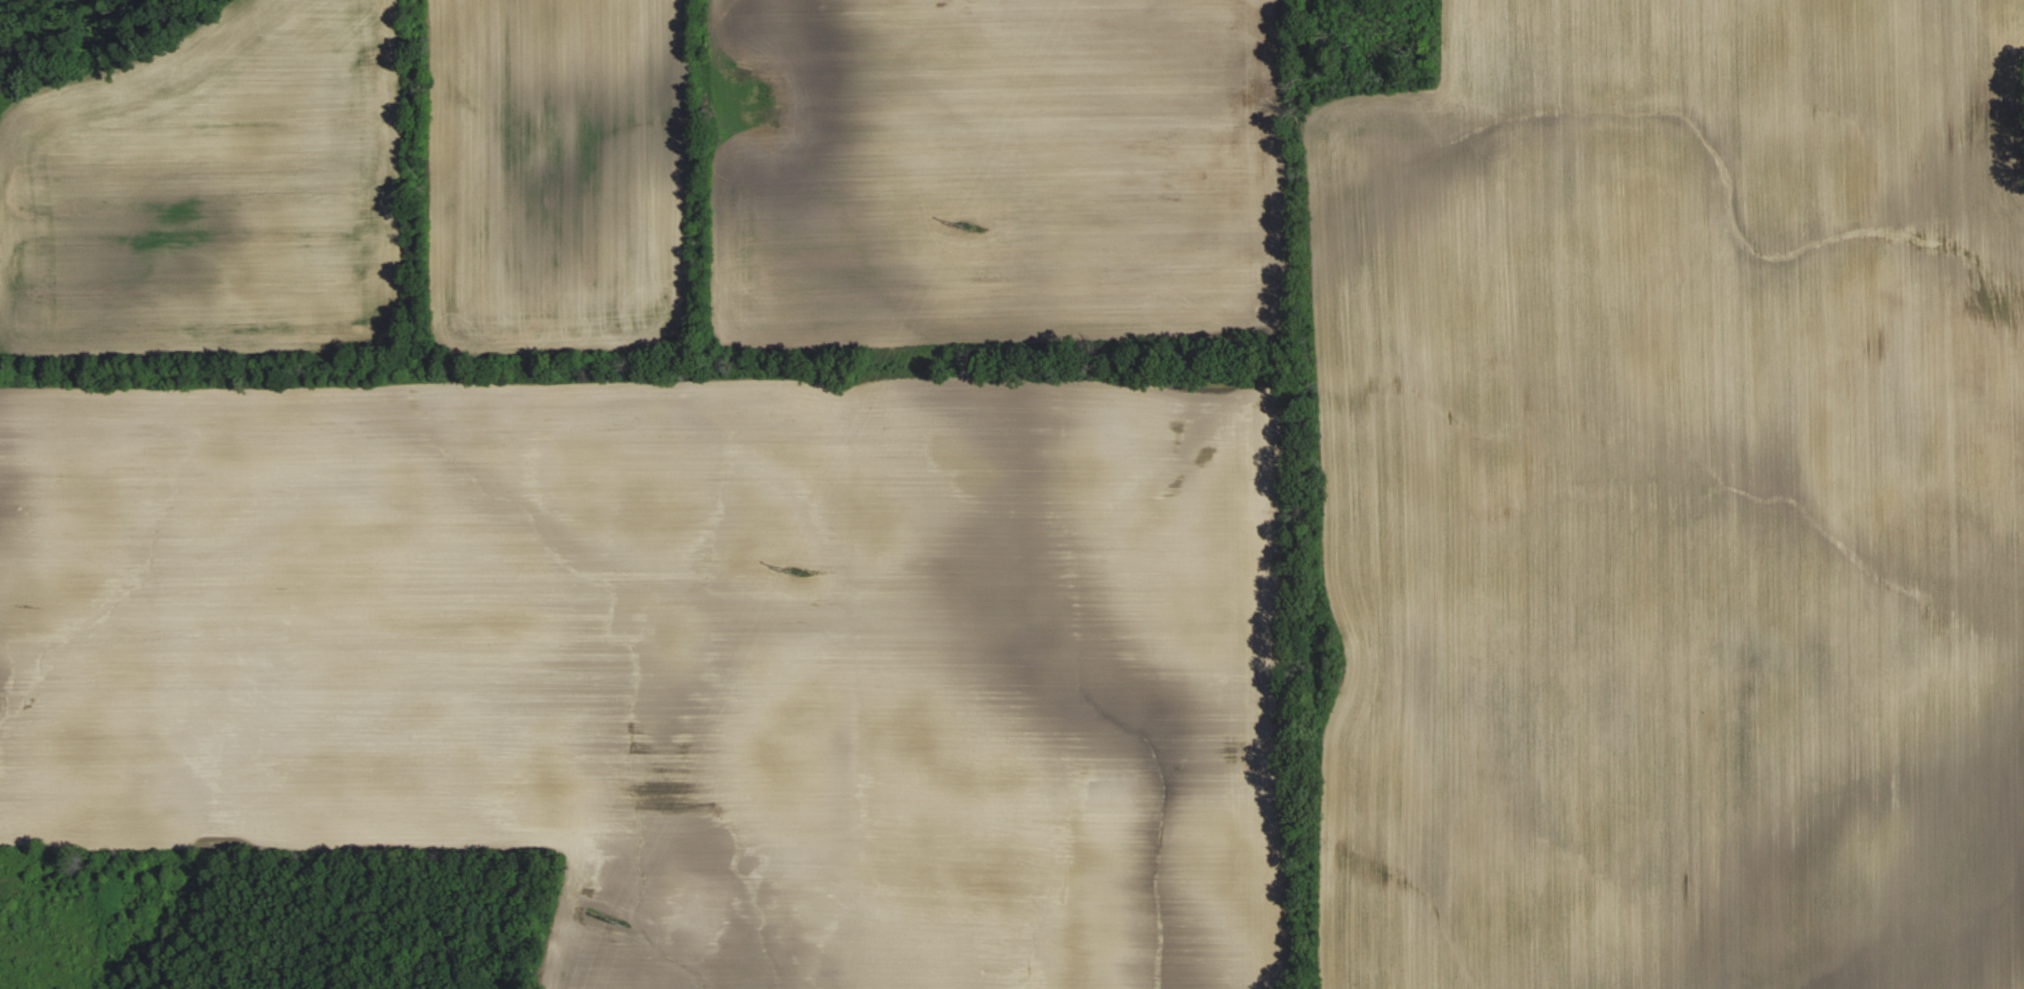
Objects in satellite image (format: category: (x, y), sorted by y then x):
power tower: (960, 233)
power tower: (805, 571)
power tower: (627, 941)

